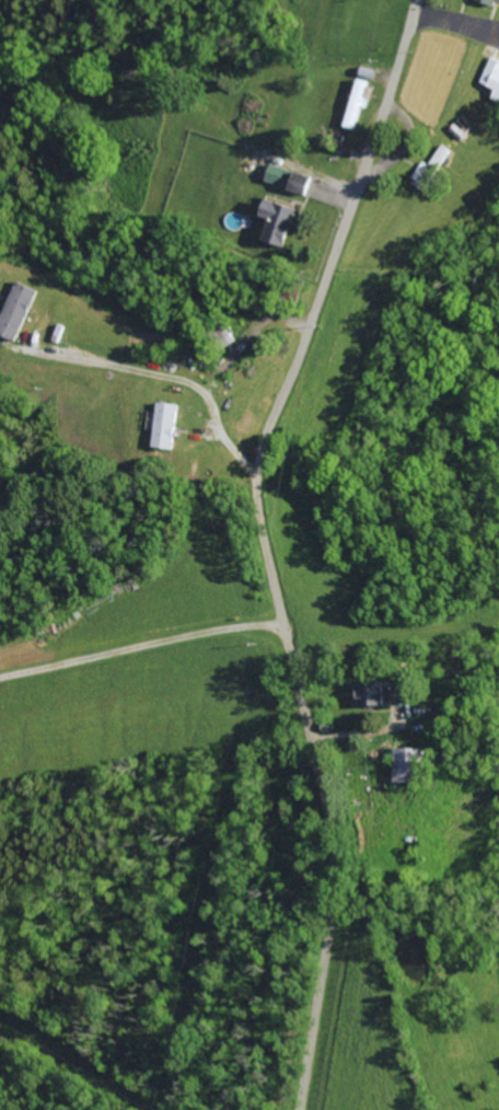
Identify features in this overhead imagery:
building: (495, 0)
building: (492, 73)
building: (498, 95)
building: (432, 166)
building: (288, 180)
building: (279, 221)
building: (19, 310)
road: (251, 344)
road: (164, 374)
building: (166, 425)
road: (267, 546)
road: (142, 647)
building: (373, 694)
building: (409, 764)

